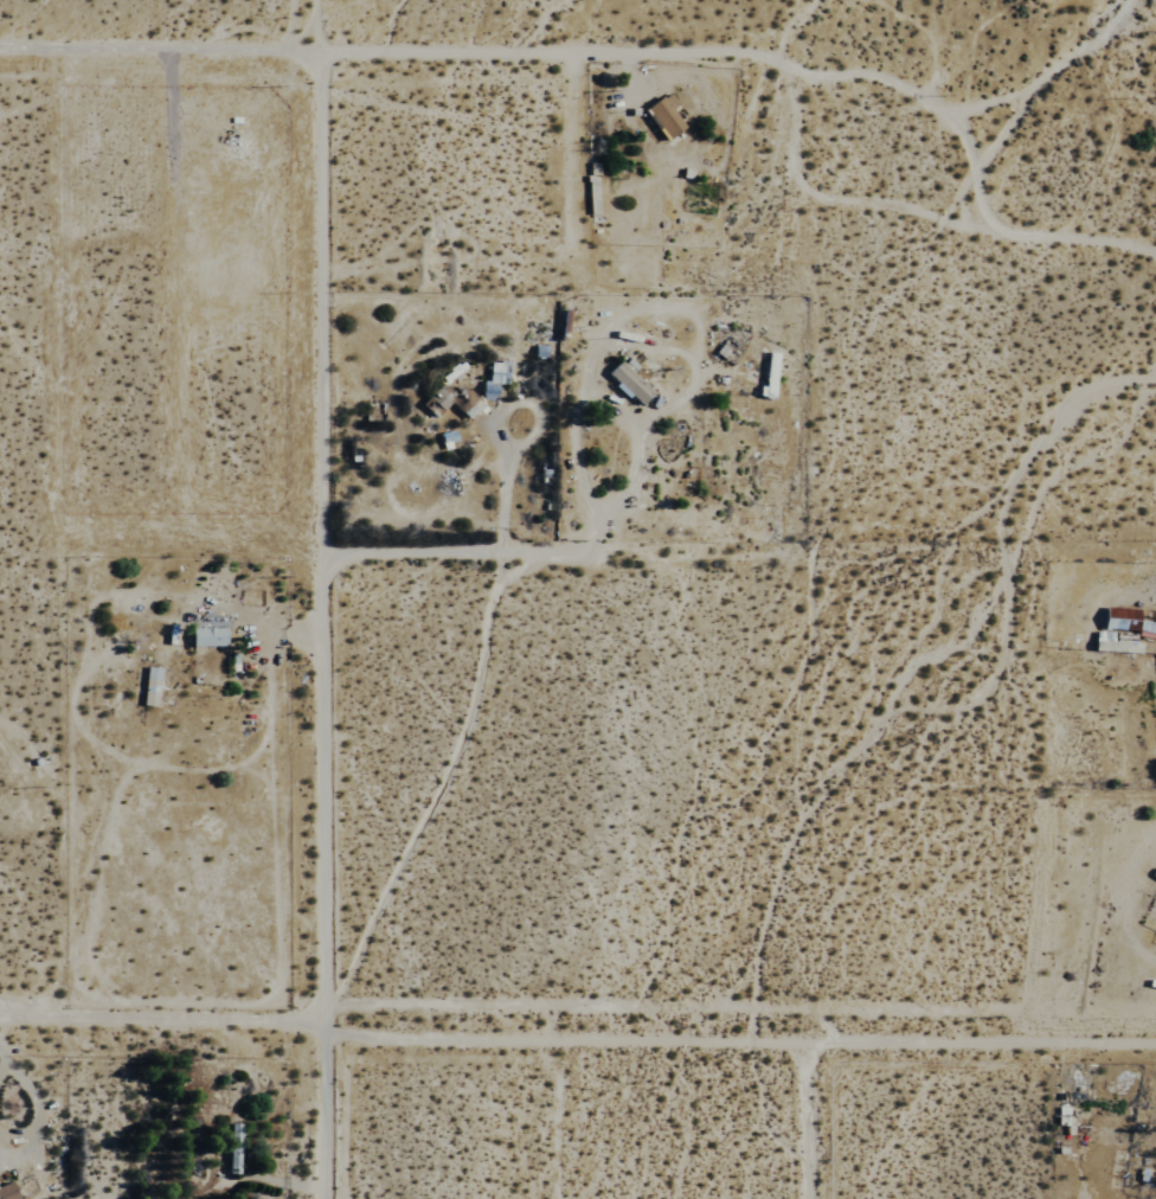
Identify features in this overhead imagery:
road: (403, 45)
road: (598, 422)
road: (559, 541)
road: (310, 621)
road: (578, 1037)
road: (810, 1056)
road: (4, 1058)
road: (4, 1069)
road: (37, 1115)

